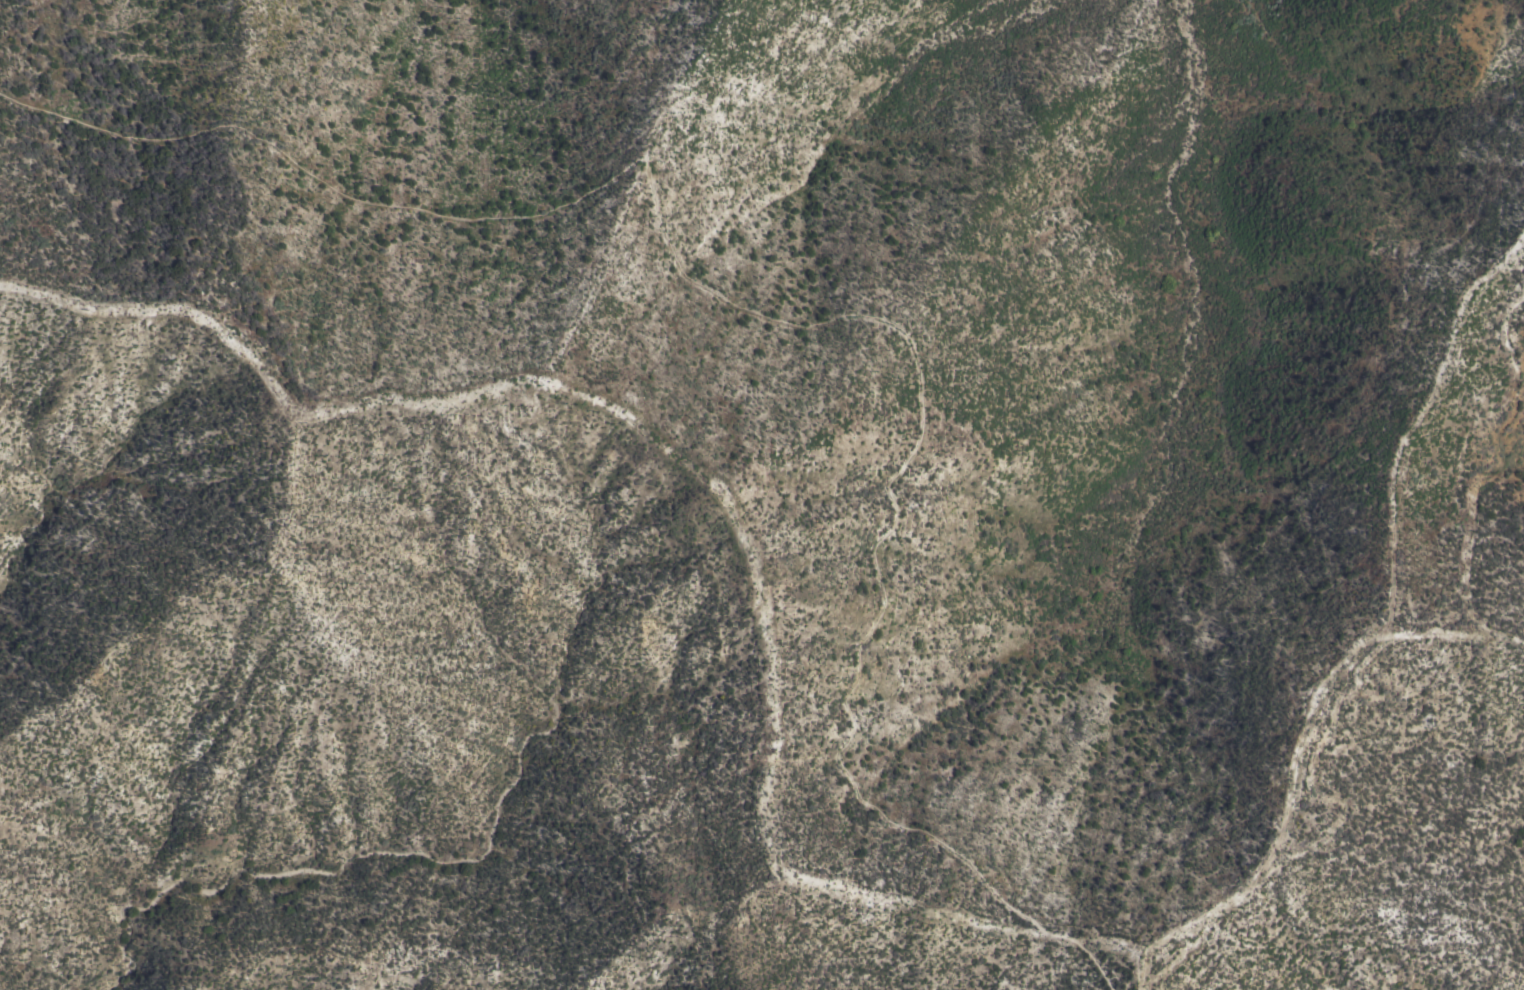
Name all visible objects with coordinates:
road: (812, 318)

